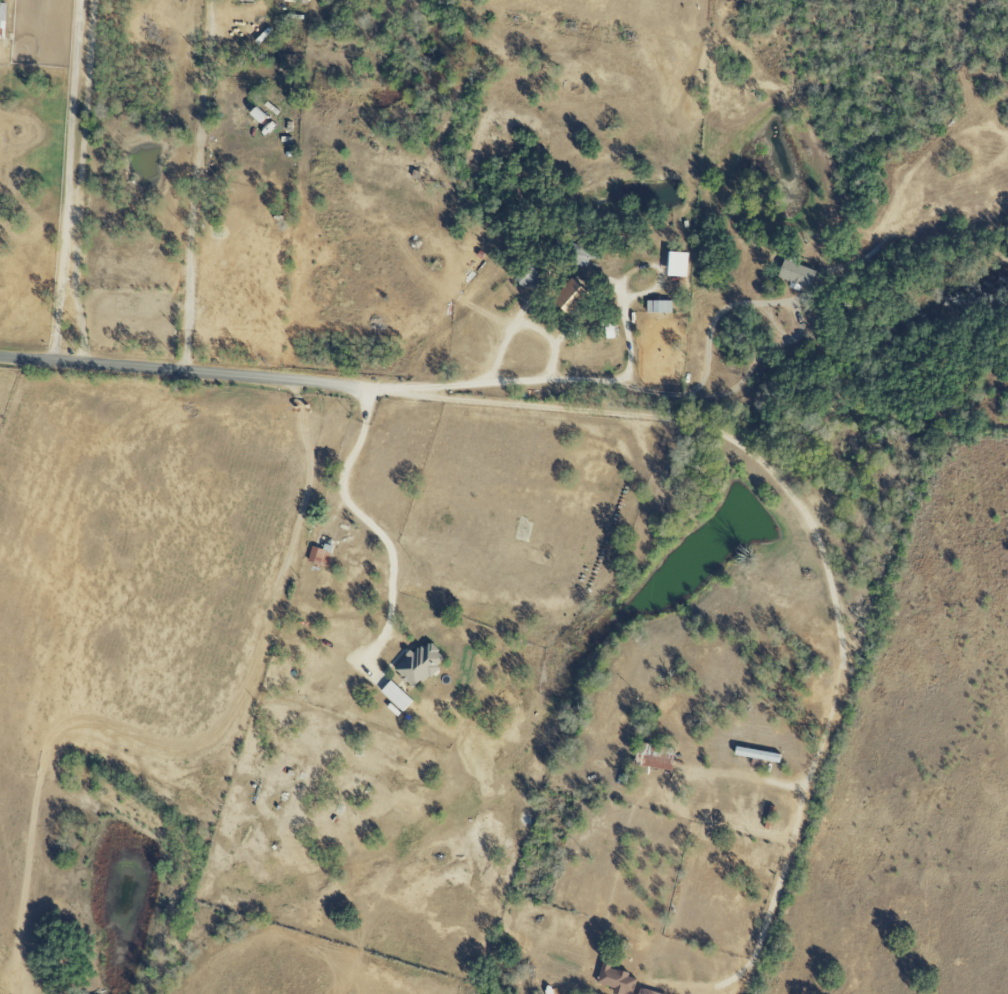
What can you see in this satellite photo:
building: (3, 15)
road: (64, 180)
road: (83, 182)
road: (193, 185)
building: (679, 264)
building: (800, 274)
building: (571, 296)
building: (660, 306)
road: (523, 323)
road: (175, 370)
road: (527, 380)
road: (370, 526)
road: (815, 539)
building: (323, 553)
building: (422, 664)
building: (397, 696)
road: (188, 746)
building: (655, 756)
building: (621, 981)

